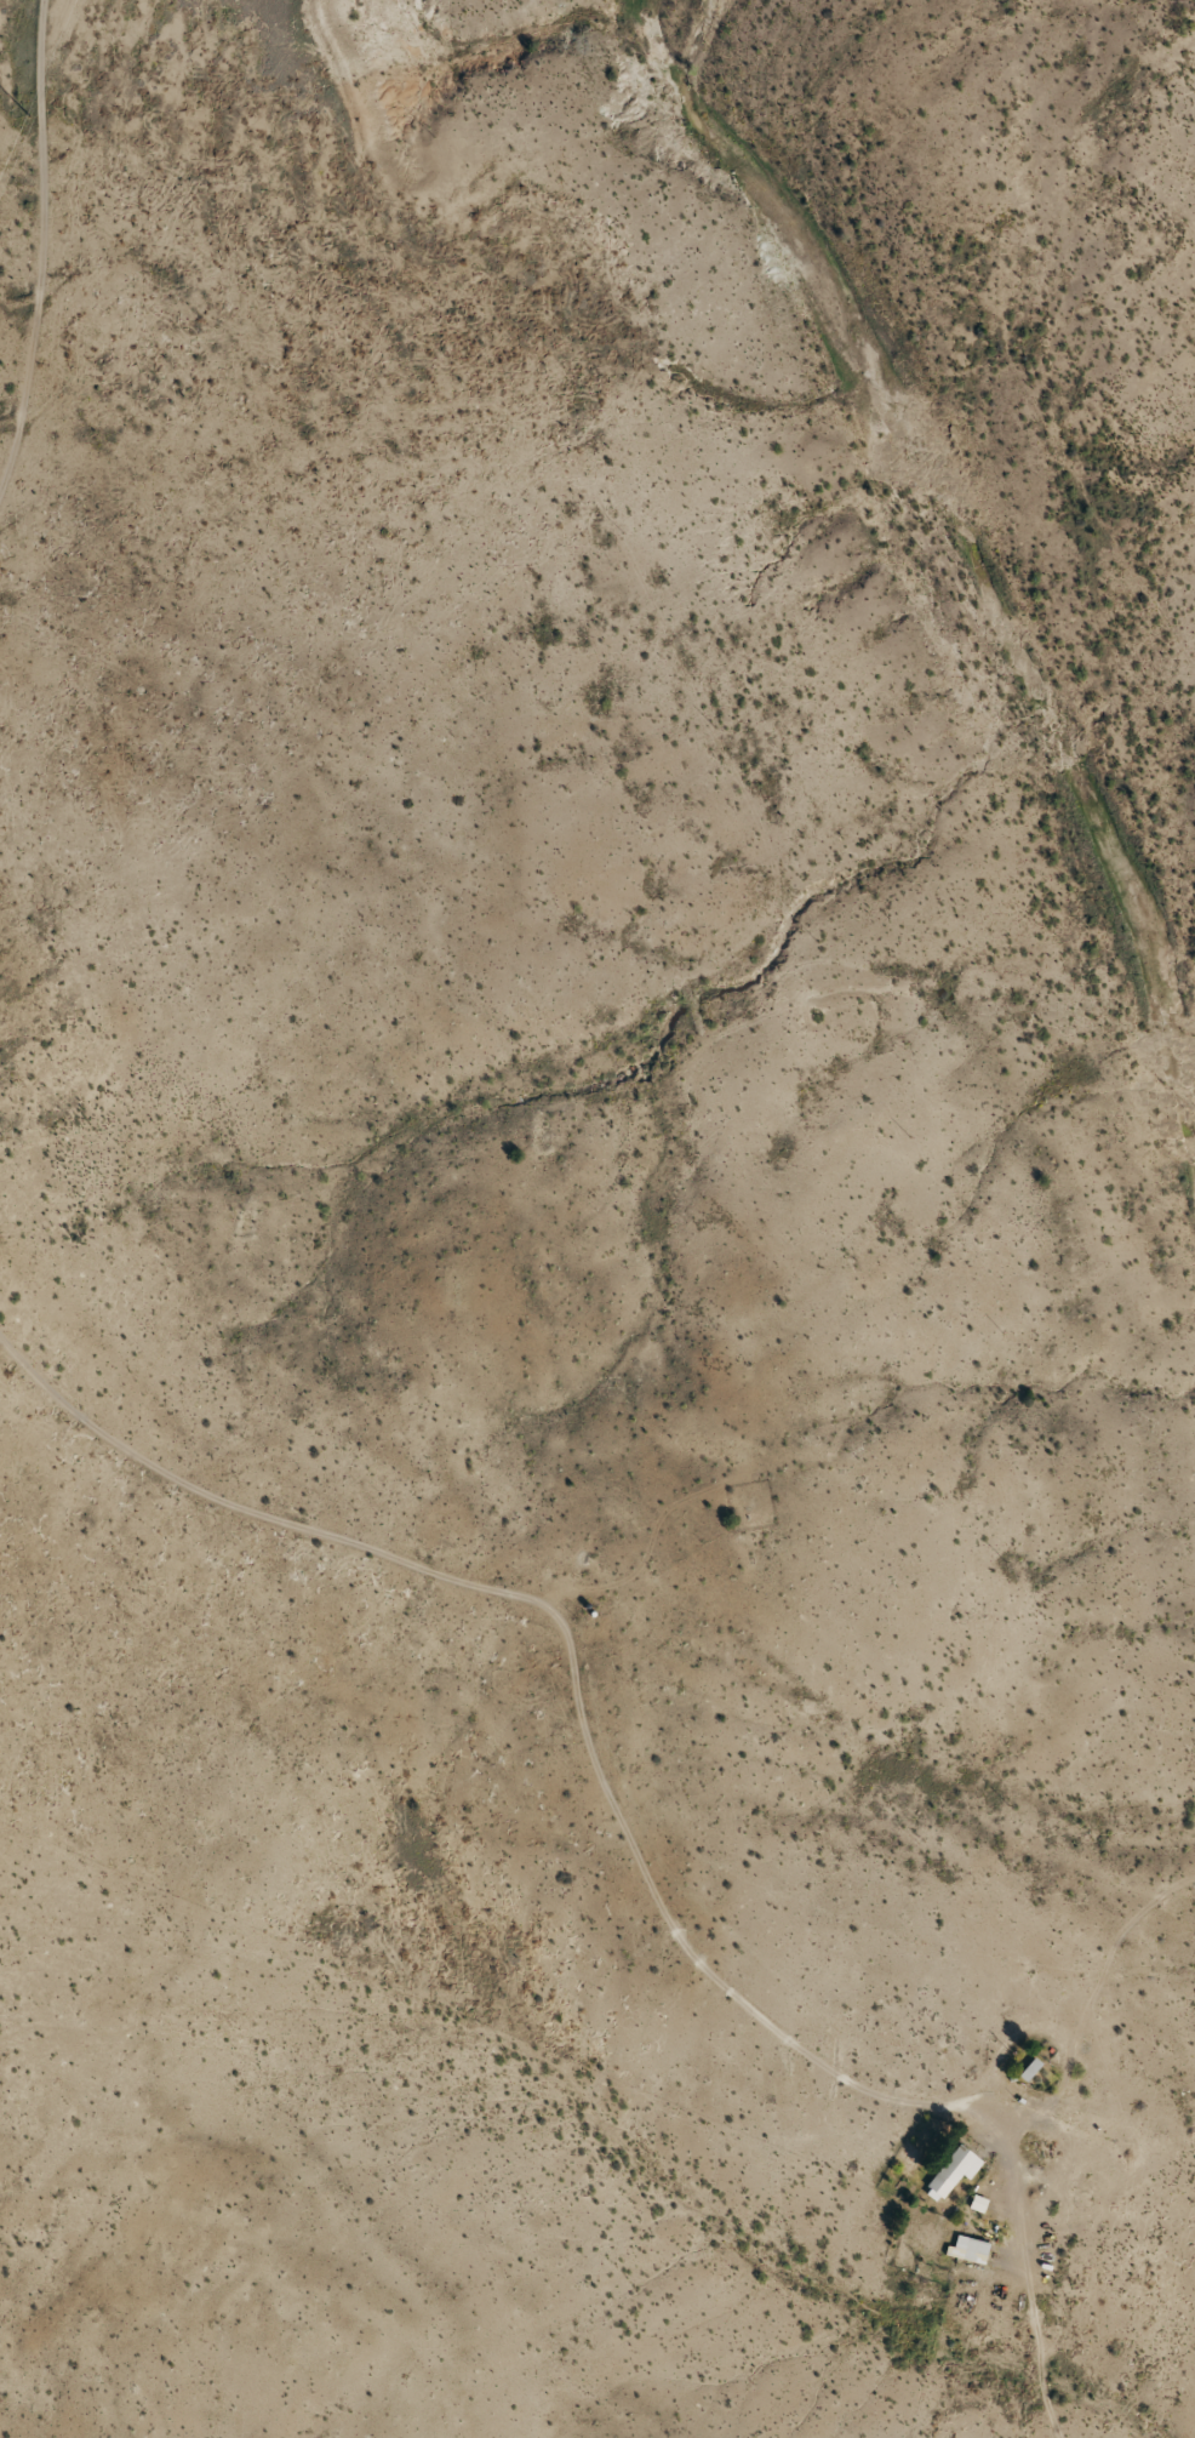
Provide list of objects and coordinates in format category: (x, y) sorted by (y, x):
power tower: (28, 115)
road: (76, 262)
building: (1030, 2071)
building: (951, 2172)
building: (967, 2249)

